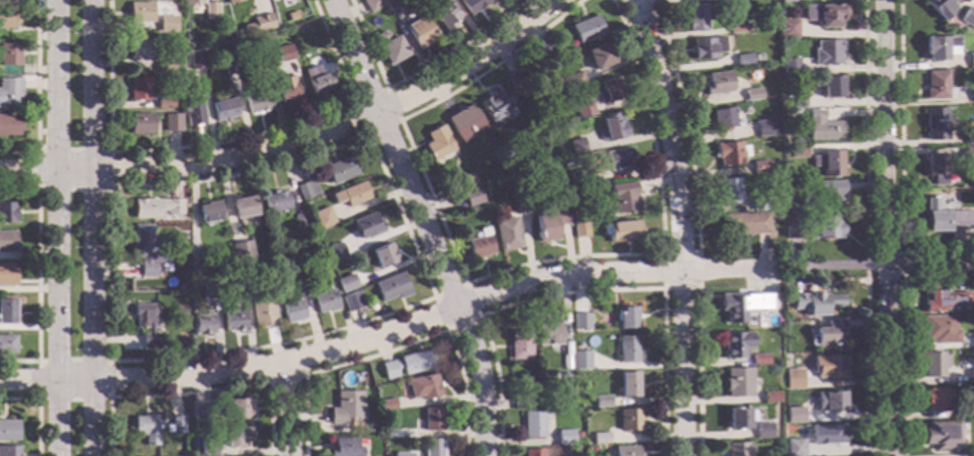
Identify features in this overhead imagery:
building: (721, 0)
building: (786, 0)
building: (230, 1)
building: (193, 2)
road: (637, 3)
building: (372, 4)
building: (393, 4)
building: (472, 5)
building: (937, 5)
building: (210, 11)
building: (383, 11)
building: (139, 13)
building: (445, 14)
building: (823, 15)
building: (8, 18)
building: (696, 18)
building: (967, 18)
building: (165, 24)
building: (258, 25)
building: (736, 28)
building: (586, 29)
building: (787, 31)
building: (420, 32)
building: (706, 47)
building: (389, 48)
building: (939, 48)
building: (139, 50)
building: (541, 50)
building: (826, 53)
building: (285, 54)
building: (598, 57)
building: (757, 57)
building: (9, 60)
building: (259, 60)
building: (743, 60)
building: (196, 61)
building: (971, 61)
building: (165, 66)
building: (789, 66)
building: (229, 67)
road: (416, 71)
building: (316, 80)
building: (565, 83)
building: (516, 84)
building: (717, 84)
building: (830, 86)
building: (936, 86)
building: (138, 89)
building: (287, 90)
building: (609, 91)
building: (10, 92)
road: (36, 94)
building: (751, 94)
building: (972, 95)
building: (795, 99)
building: (257, 102)
building: (164, 103)
building: (582, 109)
building: (224, 110)
building: (493, 110)
building: (194, 113)
building: (721, 118)
building: (171, 123)
building: (140, 124)
building: (464, 124)
building: (936, 124)
building: (9, 125)
road: (683, 125)
building: (774, 126)
building: (611, 127)
building: (821, 127)
building: (763, 128)
road: (367, 134)
road: (668, 134)
building: (969, 138)
road: (212, 142)
road: (297, 145)
building: (437, 145)
building: (575, 146)
building: (797, 151)
building: (729, 153)
building: (968, 155)
building: (617, 159)
building: (565, 162)
building: (828, 163)
building: (759, 167)
building: (935, 168)
building: (341, 170)
building: (579, 179)
building: (465, 181)
road: (37, 187)
building: (307, 190)
building: (728, 191)
building: (576, 193)
building: (828, 194)
building: (350, 195)
building: (471, 197)
building: (623, 197)
building: (276, 202)
building: (758, 204)
building: (520, 205)
building: (242, 207)
building: (155, 208)
building: (7, 213)
building: (210, 213)
building: (322, 218)
building: (945, 218)
building: (299, 221)
building: (549, 222)
road: (422, 224)
building: (745, 224)
building: (367, 226)
road: (57, 227)
road: (94, 227)
road: (885, 227)
building: (828, 228)
road: (865, 228)
road: (900, 228)
building: (580, 230)
building: (791, 231)
building: (621, 232)
building: (507, 235)
building: (7, 242)
building: (479, 247)
building: (144, 250)
building: (241, 252)
building: (334, 252)
building: (383, 256)
building: (319, 259)
road: (929, 260)
building: (198, 261)
road: (723, 269)
road: (496, 271)
road: (37, 274)
building: (8, 275)
building: (345, 283)
road: (465, 283)
building: (236, 285)
road: (663, 287)
building: (391, 288)
building: (300, 289)
building: (208, 291)
road: (581, 291)
building: (325, 302)
building: (351, 302)
building: (945, 302)
building: (817, 304)
building: (741, 305)
road: (402, 307)
building: (261, 309)
building: (292, 311)
building: (8, 312)
building: (626, 318)
building: (233, 321)
building: (580, 321)
building: (146, 322)
building: (202, 325)
building: (938, 330)
building: (549, 335)
building: (827, 335)
building: (971, 339)
building: (7, 345)
building: (520, 345)
building: (735, 345)
road: (398, 347)
road: (345, 349)
building: (627, 350)
building: (758, 359)
building: (566, 361)
building: (578, 362)
building: (407, 364)
road: (681, 364)
building: (932, 364)
building: (831, 367)
building: (970, 370)
road: (698, 371)
road: (303, 374)
building: (565, 376)
building: (791, 380)
building: (738, 383)
building: (628, 384)
building: (423, 387)
road: (197, 391)
road: (37, 397)
building: (769, 397)
building: (602, 401)
building: (829, 401)
building: (931, 401)
building: (520, 402)
building: (385, 405)
building: (346, 407)
road: (37, 408)
building: (237, 409)
road: (289, 409)
building: (973, 411)
building: (201, 412)
building: (577, 413)
building: (792, 416)
building: (806, 416)
building: (737, 419)
building: (432, 420)
building: (629, 420)
building: (387, 422)
building: (175, 425)
building: (533, 425)
building: (147, 429)
building: (9, 431)
building: (762, 431)
building: (939, 435)
building: (826, 436)
building: (236, 437)
building: (564, 438)
building: (600, 438)
building: (794, 447)
building: (343, 448)
building: (432, 448)
building: (737, 449)
building: (9, 451)
building: (210, 451)
building: (625, 451)
building: (533, 453)
building: (399, 455)
building: (973, 455)

